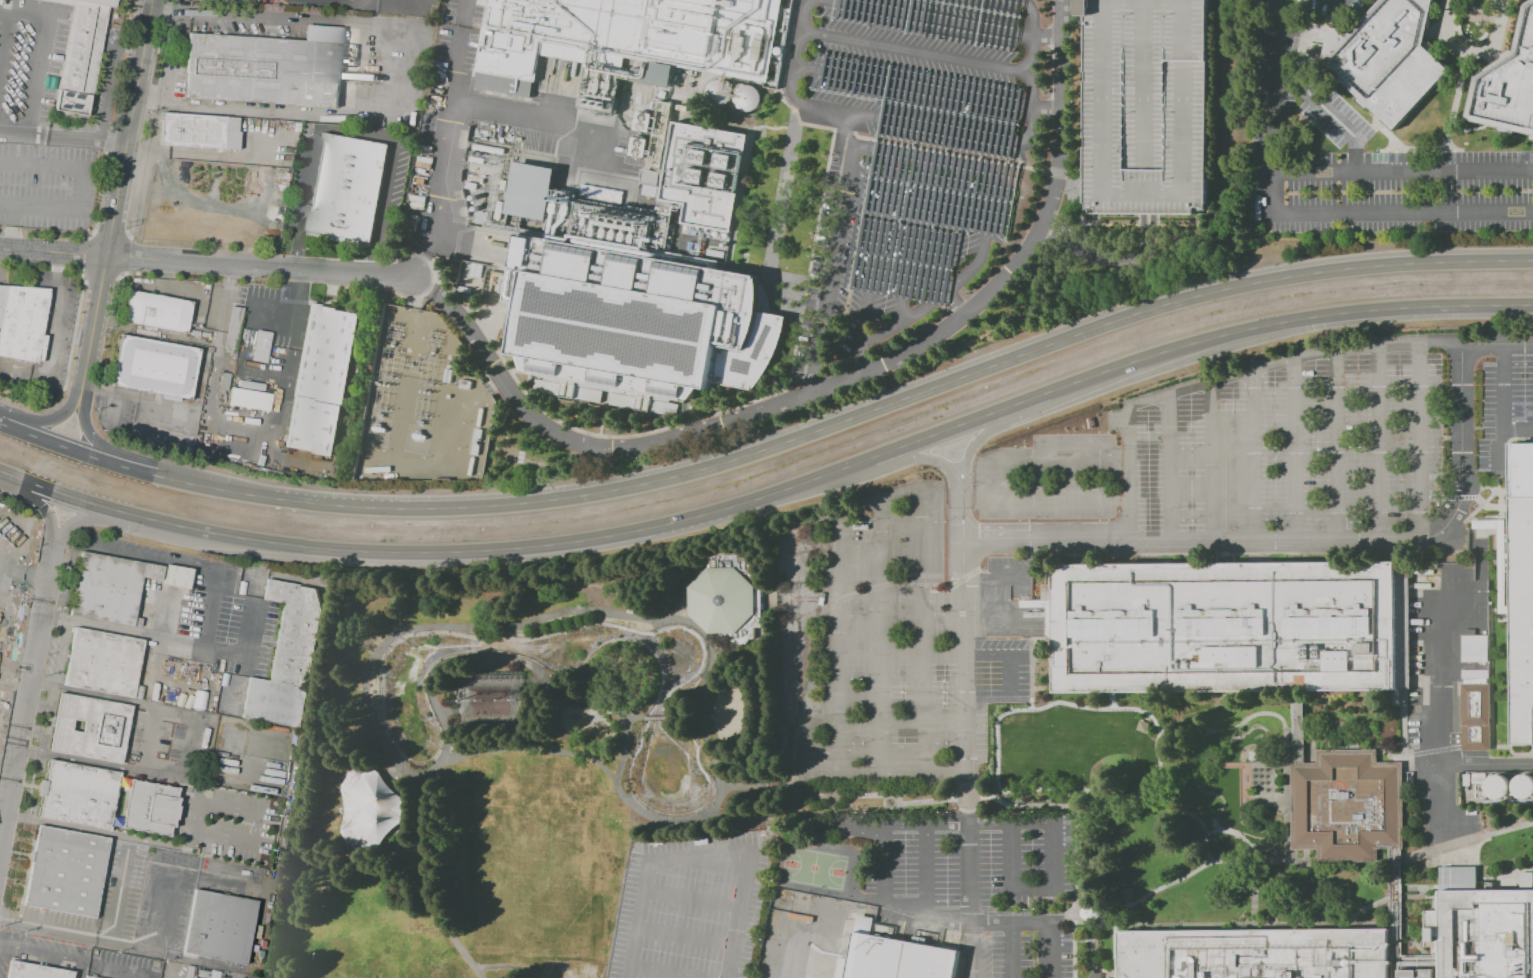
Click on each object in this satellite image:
building: (481, 2)
road: (338, 3)
road: (404, 6)
road: (164, 14)
road: (22, 16)
road: (950, 20)
road: (177, 23)
building: (632, 37)
road: (4, 39)
road: (1473, 52)
building: (81, 53)
road: (920, 55)
building: (1388, 57)
building: (263, 71)
road: (397, 75)
road: (35, 76)
building: (1508, 84)
road: (166, 85)
road: (932, 89)
road: (150, 93)
parking lot: (1277, 100)
building: (1149, 106)
parking lot: (1149, 106)
road: (1452, 110)
road: (1330, 114)
road: (542, 120)
building: (642, 121)
road: (936, 126)
road: (1468, 131)
building: (199, 132)
road: (353, 133)
road: (62, 135)
road: (1391, 139)
road: (443, 140)
building: (637, 146)
road: (930, 149)
road: (194, 153)
road: (907, 158)
parking lot: (909, 159)
road: (1402, 171)
building: (706, 176)
building: (649, 182)
road: (785, 187)
road: (83, 188)
building: (347, 188)
building: (530, 191)
parking lot: (1408, 192)
road: (116, 194)
road: (1295, 213)
road: (952, 235)
road: (985, 235)
road: (914, 248)
road: (878, 250)
road: (1105, 254)
road: (206, 263)
building: (473, 269)
road: (834, 272)
road: (293, 298)
building: (764, 298)
road: (54, 300)
road: (959, 308)
building: (157, 313)
road: (917, 321)
building: (22, 322)
building: (636, 326)
building: (232, 328)
road: (293, 335)
road: (68, 337)
building: (261, 346)
road: (1355, 349)
road: (865, 358)
building: (156, 368)
building: (320, 381)
road: (832, 385)
road: (1168, 398)
building: (248, 399)
road: (208, 401)
road: (883, 405)
power substation: (423, 406)
road: (1502, 406)
road: (47, 422)
road: (1518, 431)
road: (988, 434)
road: (274, 437)
road: (1421, 438)
road: (1380, 441)
road: (1339, 444)
road: (1296, 448)
road: (1255, 454)
road: (136, 457)
road: (1096, 459)
road: (914, 460)
road: (1212, 462)
road: (112, 463)
road: (1172, 468)
road: (772, 493)
road: (1036, 501)
road: (38, 505)
road: (102, 523)
road: (1337, 536)
building: (4, 539)
road: (108, 550)
building: (176, 577)
building: (250, 580)
building: (108, 588)
building: (1522, 590)
building: (729, 598)
road: (882, 599)
road: (571, 612)
road: (168, 622)
road: (965, 625)
building: (1225, 626)
road: (205, 630)
road: (657, 631)
road: (885, 637)
road: (169, 640)
road: (842, 646)
road: (645, 647)
building: (1474, 647)
road: (1008, 652)
road: (446, 654)
road: (61, 655)
road: (486, 656)
building: (287, 658)
building: (102, 663)
road: (1441, 680)
road: (13, 681)
road: (40, 686)
road: (25, 687)
road: (3, 699)
road: (105, 699)
road: (3, 716)
building: (1475, 716)
road: (655, 717)
road: (668, 717)
road: (48, 721)
building: (89, 728)
road: (481, 749)
park: (523, 756)
road: (1487, 761)
road: (79, 762)
road: (418, 766)
track: (525, 766)
road: (947, 771)
road: (822, 773)
road: (143, 775)
road: (396, 780)
road: (196, 790)
road: (618, 792)
building: (78, 795)
building: (1347, 805)
building: (369, 806)
building: (149, 809)
road: (407, 816)
road: (1011, 822)
road: (196, 833)
road: (103, 834)
road: (368, 856)
road: (747, 863)
road: (927, 869)
building: (65, 872)
road: (970, 874)
building: (1526, 880)
road: (697, 881)
road: (119, 896)
road: (643, 914)
road: (691, 916)
road: (952, 920)
building: (219, 927)
building: (1479, 936)
road: (116, 942)
road: (684, 951)
road: (1013, 951)
road: (43, 953)
road: (797, 953)
building: (1257, 954)
building: (897, 959)
road: (499, 966)
road: (119, 968)
road: (79, 969)
building: (34, 971)
road: (539, 976)
building: (88, 977)

